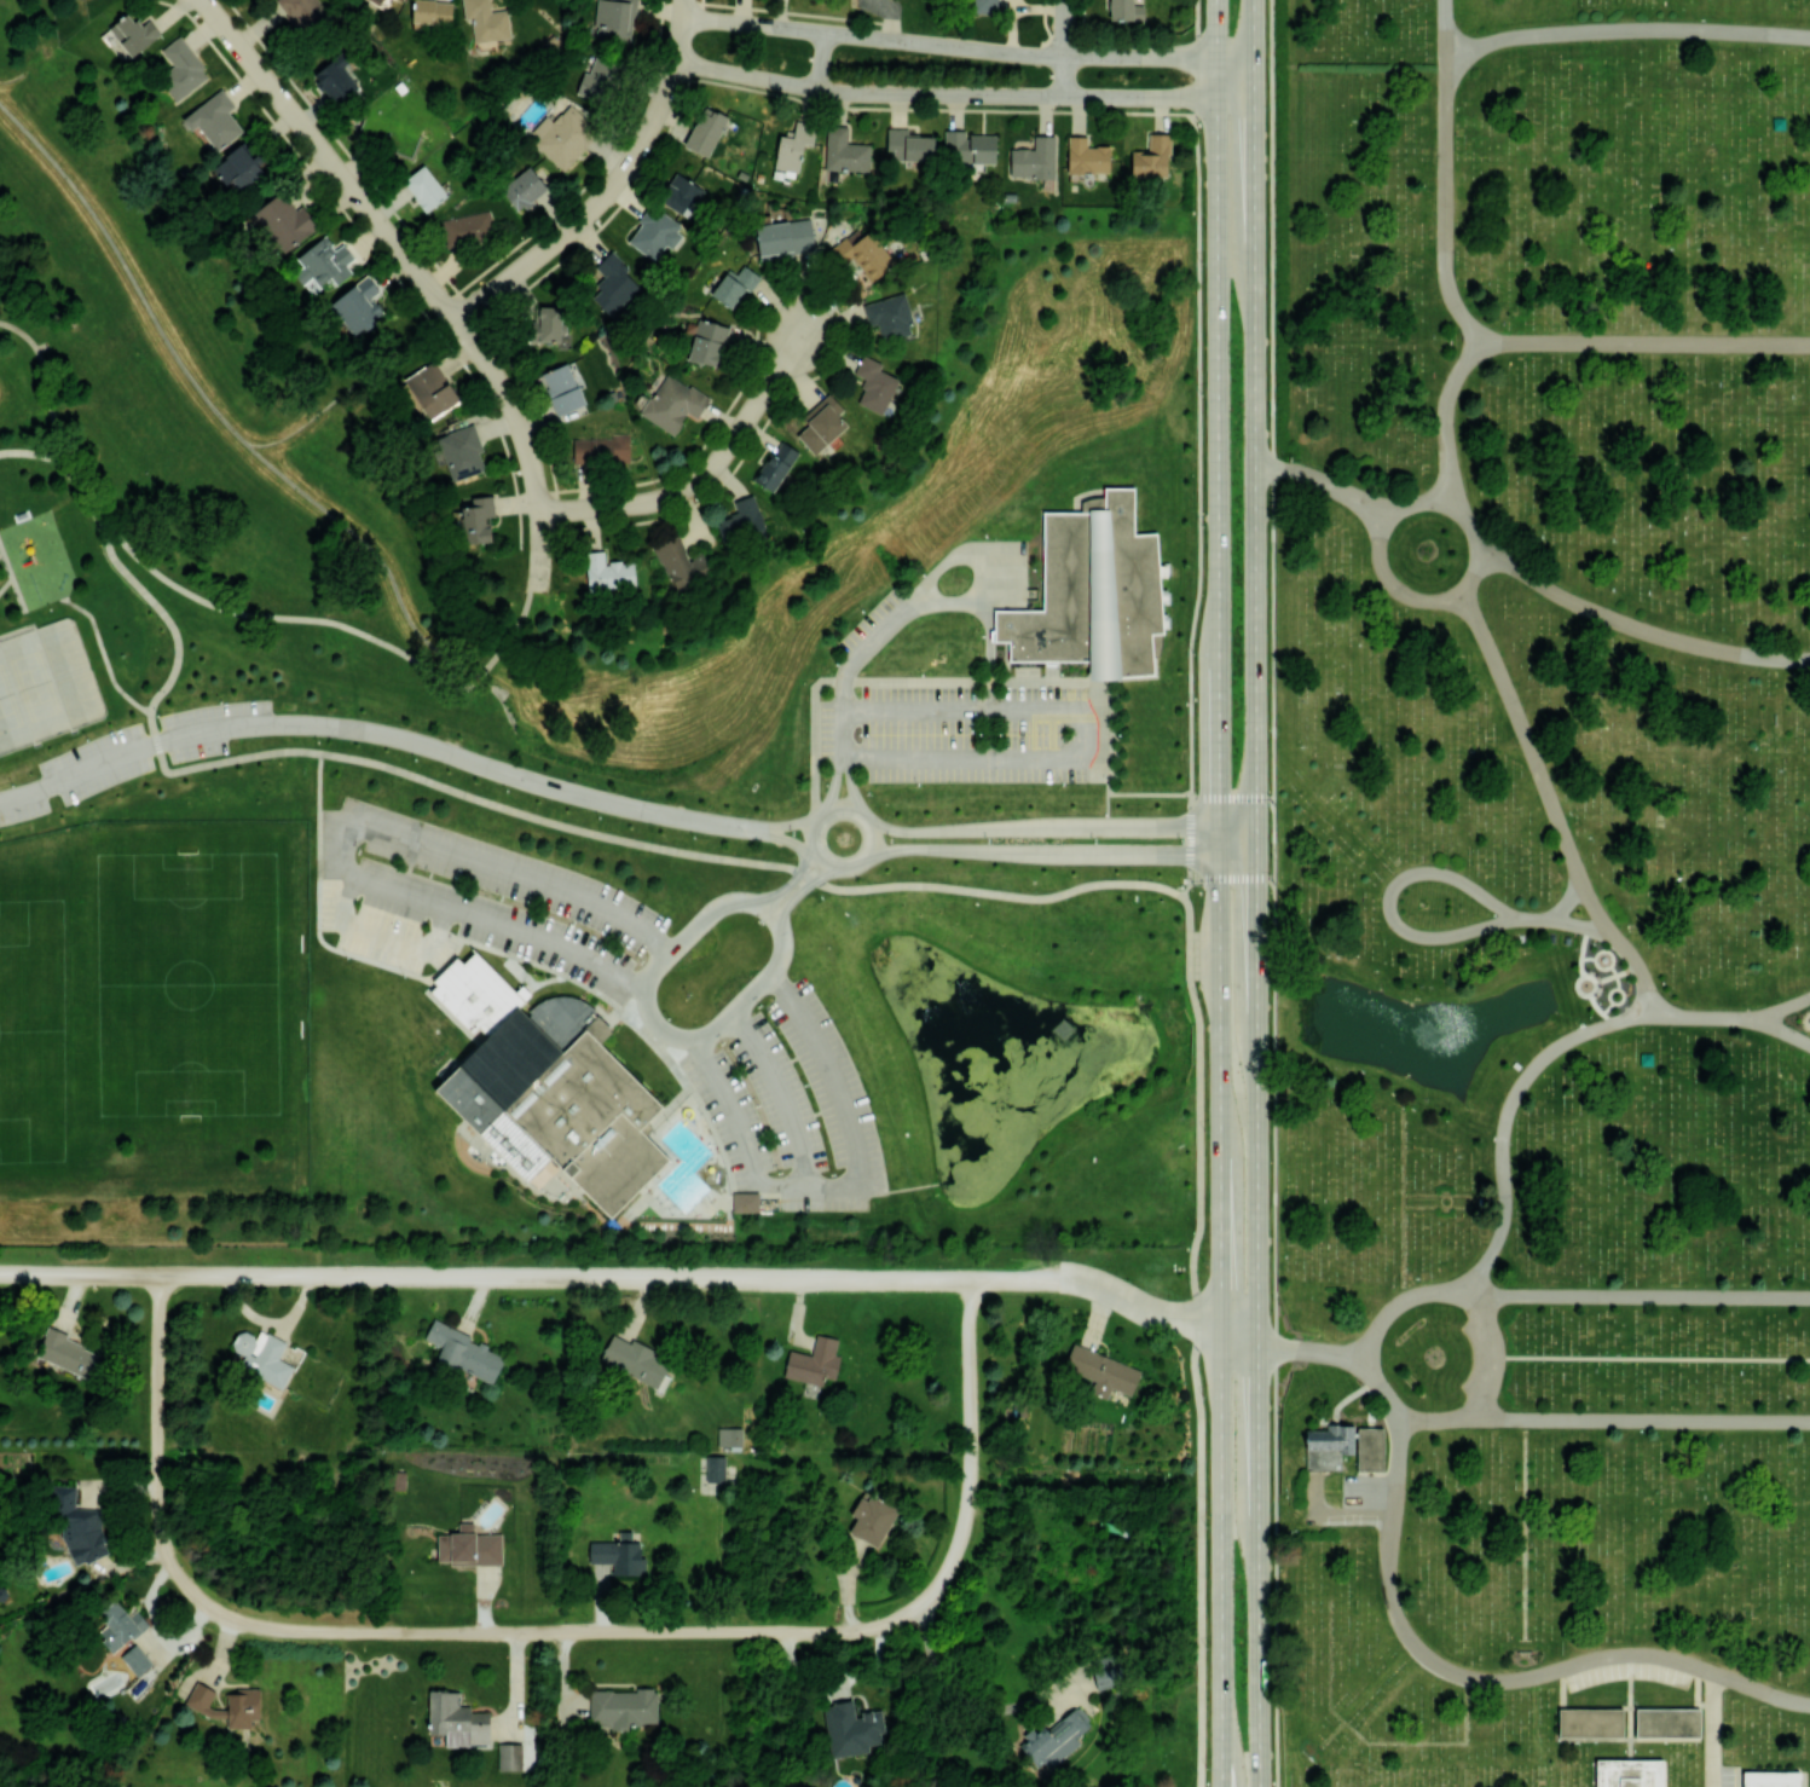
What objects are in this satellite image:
building: (400, 0)
building: (377, 1)
building: (984, 6)
building: (1126, 10)
building: (432, 11)
building: (302, 12)
building: (613, 19)
building: (486, 21)
road: (1624, 28)
road: (680, 29)
road: (1444, 30)
building: (133, 33)
road: (1063, 47)
road: (967, 48)
road: (1198, 58)
road: (820, 59)
building: (181, 69)
building: (335, 79)
building: (598, 79)
road: (964, 94)
building: (214, 118)
building: (706, 131)
building: (562, 135)
building: (793, 145)
building: (908, 146)
building: (968, 148)
building: (845, 152)
building: (1086, 156)
building: (1151, 157)
building: (1034, 158)
road: (330, 160)
building: (237, 167)
building: (424, 187)
building: (524, 187)
building: (680, 193)
road: (590, 209)
road: (1444, 209)
building: (284, 221)
building: (467, 229)
building: (654, 232)
road: (1272, 232)
building: (783, 237)
building: (862, 254)
building: (323, 262)
building: (612, 283)
building: (733, 285)
building: (357, 303)
building: (889, 316)
building: (547, 323)
road: (1644, 340)
building: (706, 342)
road: (46, 381)
building: (874, 384)
building: (561, 388)
building: (430, 391)
building: (672, 403)
road: (1219, 412)
road: (1444, 417)
road: (1254, 420)
building: (821, 426)
road: (526, 446)
building: (601, 449)
building: (461, 451)
road: (22, 452)
road: (1199, 455)
building: (775, 465)
road: (704, 473)
road: (80, 481)
road: (1324, 482)
building: (476, 517)
building: (740, 521)
building: (681, 563)
building: (608, 573)
road: (1451, 592)
building: (1094, 595)
road: (913, 609)
road: (336, 624)
road: (1637, 628)
road: (1272, 631)
park: (44, 683)
park: (577, 718)
road: (1083, 735)
road: (131, 748)
road: (511, 774)
road: (318, 780)
road: (834, 785)
road: (850, 787)
road: (1139, 793)
road: (1231, 796)
road: (1551, 805)
road: (533, 817)
road: (788, 822)
road: (1060, 826)
traffic signals: (1218, 826)
road: (347, 831)
road: (1273, 837)
road: (786, 840)
traffic signals: (1255, 840)
road: (1190, 845)
road: (1060, 850)
traffic signals: (1218, 852)
road: (844, 867)
road: (793, 875)
road: (1231, 877)
road: (799, 891)
park: (1545, 893)
road: (1388, 897)
road: (1567, 898)
parking lot: (470, 900)
road: (1562, 920)
road: (382, 935)
park: (562, 975)
park: (202, 981)
road: (1779, 1007)
road: (1806, 1019)
park: (33, 1033)
road: (676, 1034)
fountain: (1413, 1036)
road: (1551, 1049)
road: (1219, 1071)
building: (548, 1086)
road: (780, 1092)
parking lot: (790, 1104)
road: (1198, 1108)
road: (843, 1184)
building: (745, 1201)
road: (1404, 1203)
road: (513, 1273)
road: (1123, 1295)
road: (1638, 1295)
road: (1400, 1299)
road: (1256, 1313)
road: (1273, 1331)
road: (1238, 1334)
road: (1311, 1351)
building: (69, 1353)
building: (463, 1354)
road: (1493, 1354)
road: (1652, 1355)
building: (262, 1357)
parking lot: (1479, 1358)
building: (632, 1359)
building: (814, 1361)
building: (1108, 1371)
road: (1378, 1388)
road: (158, 1405)
road: (1435, 1417)
road: (1641, 1418)
building: (729, 1436)
road: (970, 1445)
building: (1328, 1445)
building: (1370, 1447)
road: (1395, 1465)
building: (715, 1468)
parking lot: (1366, 1488)
road: (1332, 1515)
building: (873, 1519)
building: (79, 1526)
road: (1523, 1528)
building: (469, 1546)
road: (1201, 1552)
road: (1220, 1552)
building: (618, 1554)
building: (118, 1625)
road: (524, 1631)
building: (135, 1659)
road: (1329, 1661)
parking lot: (1627, 1669)
building: (1105, 1670)
road: (1493, 1678)
road: (1630, 1678)
road: (1698, 1684)
road: (1760, 1689)
building: (243, 1698)
road: (1705, 1702)
road: (964, 1704)
road: (1575, 1706)
road: (1665, 1706)
building: (623, 1707)
building: (456, 1719)
building: (1591, 1722)
road: (1629, 1722)
building: (1667, 1722)
building: (851, 1729)
road: (1712, 1729)
road: (1331, 1733)
road: (1630, 1737)
building: (1054, 1739)
road: (1432, 1741)
road: (1629, 1747)
building: (510, 1756)
building: (1630, 1772)
parking lot: (1725, 1775)
building: (1774, 1779)

